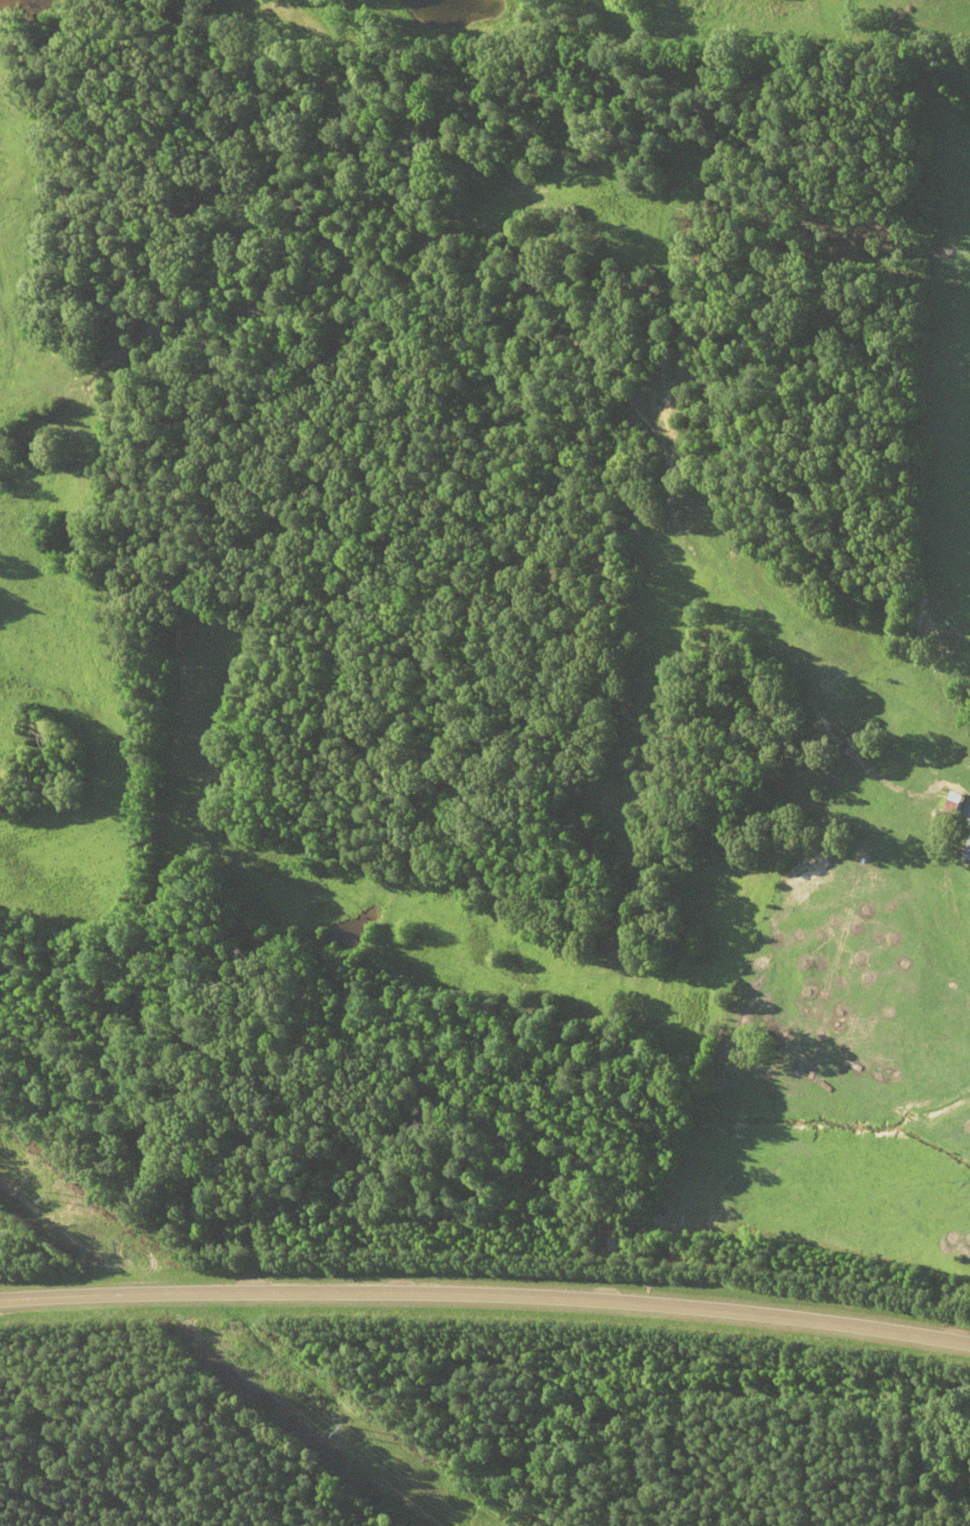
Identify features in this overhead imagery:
building: (968, 852)
power tower: (52, 1197)
road: (486, 1293)
power tower: (343, 1426)

